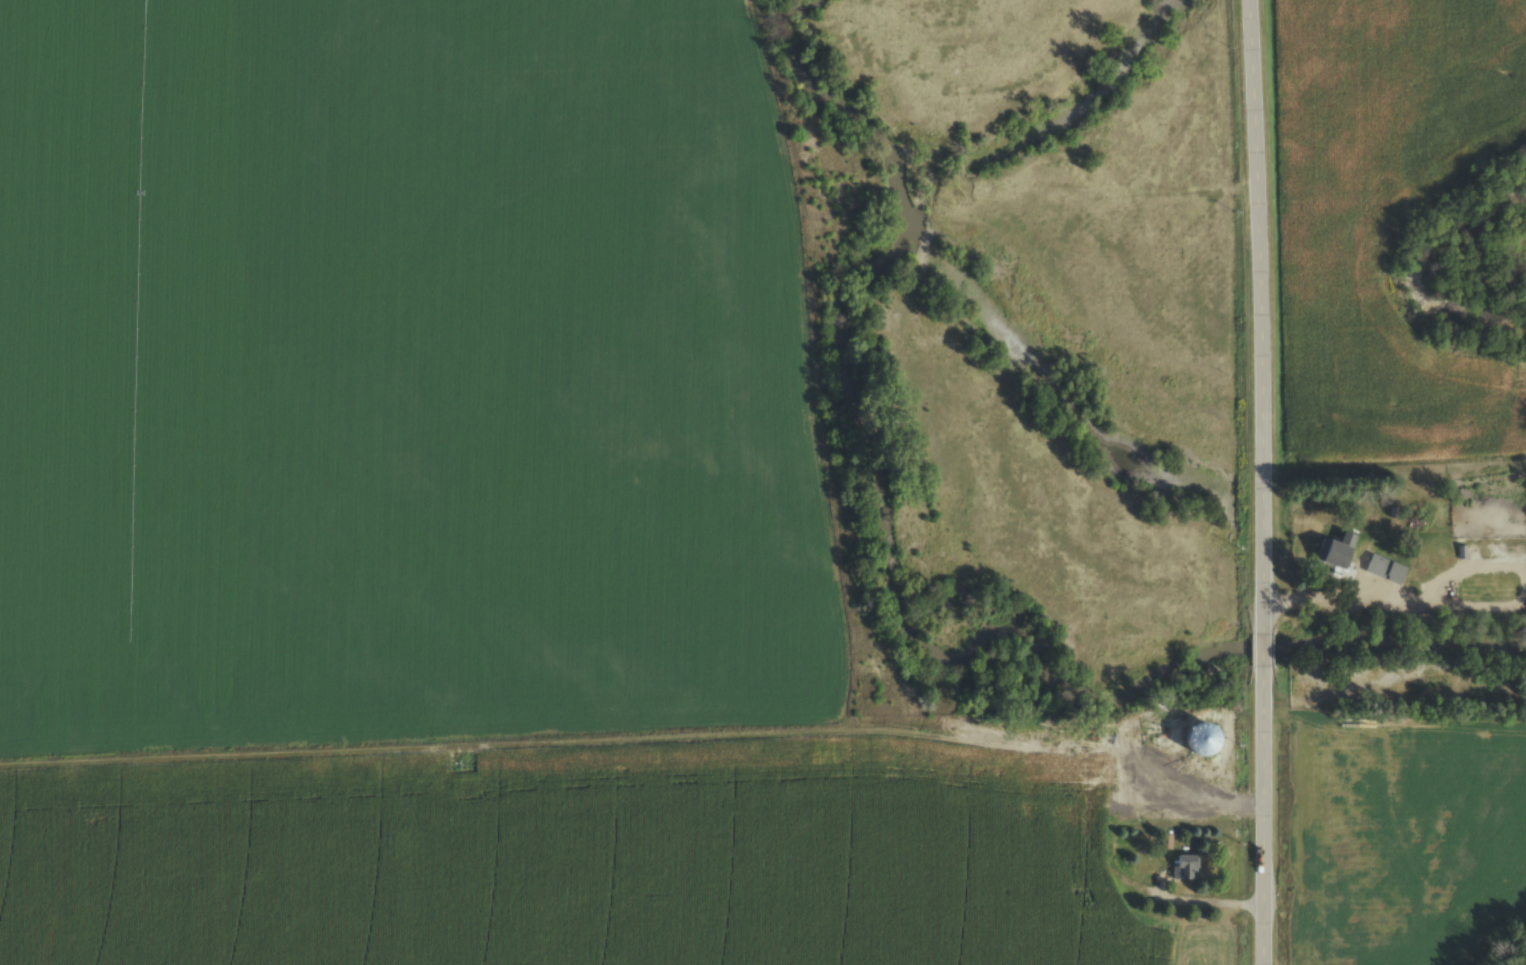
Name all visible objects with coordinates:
road: (1260, 316)
building: (1337, 554)
building: (1378, 567)
road: (1327, 594)
road: (1263, 649)
building: (1482, 735)
road: (1263, 815)
building: (1182, 869)
road: (1159, 893)

